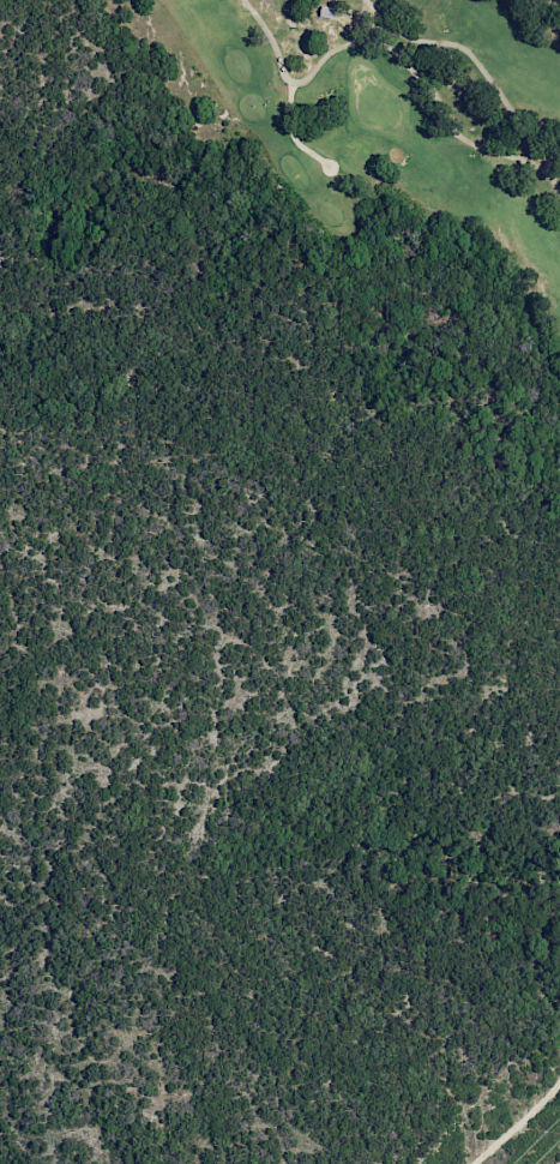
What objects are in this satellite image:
road: (401, 58)
road: (474, 59)
park: (369, 154)
road: (516, 1122)

